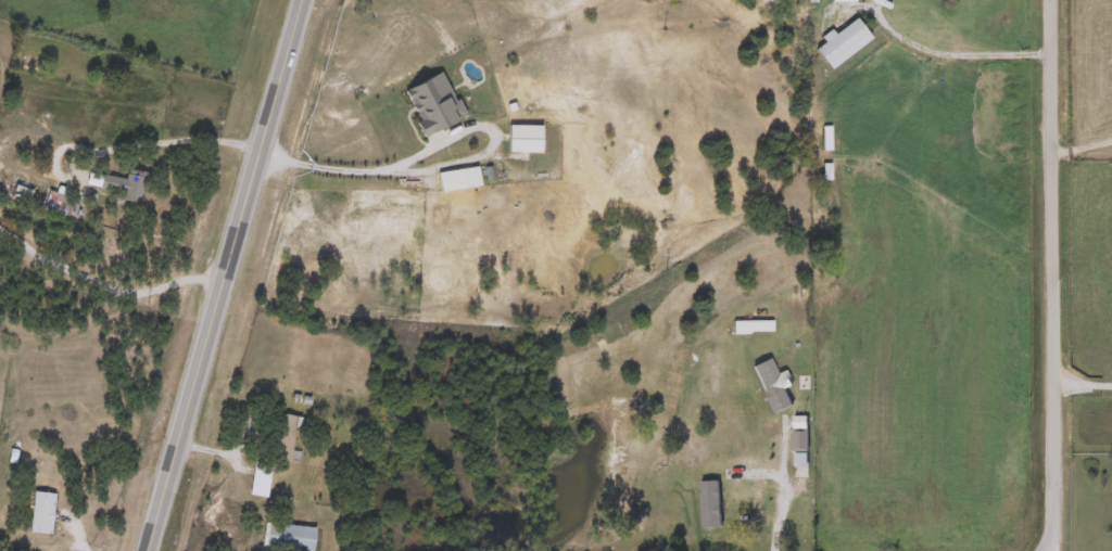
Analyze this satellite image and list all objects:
road: (161, 143)
road: (1082, 149)
road: (344, 170)
building: (119, 188)
road: (217, 274)
road: (1050, 277)
road: (101, 287)
building: (749, 328)
building: (768, 386)
road: (1081, 387)
building: (279, 437)
building: (797, 440)
building: (38, 513)
building: (285, 538)

